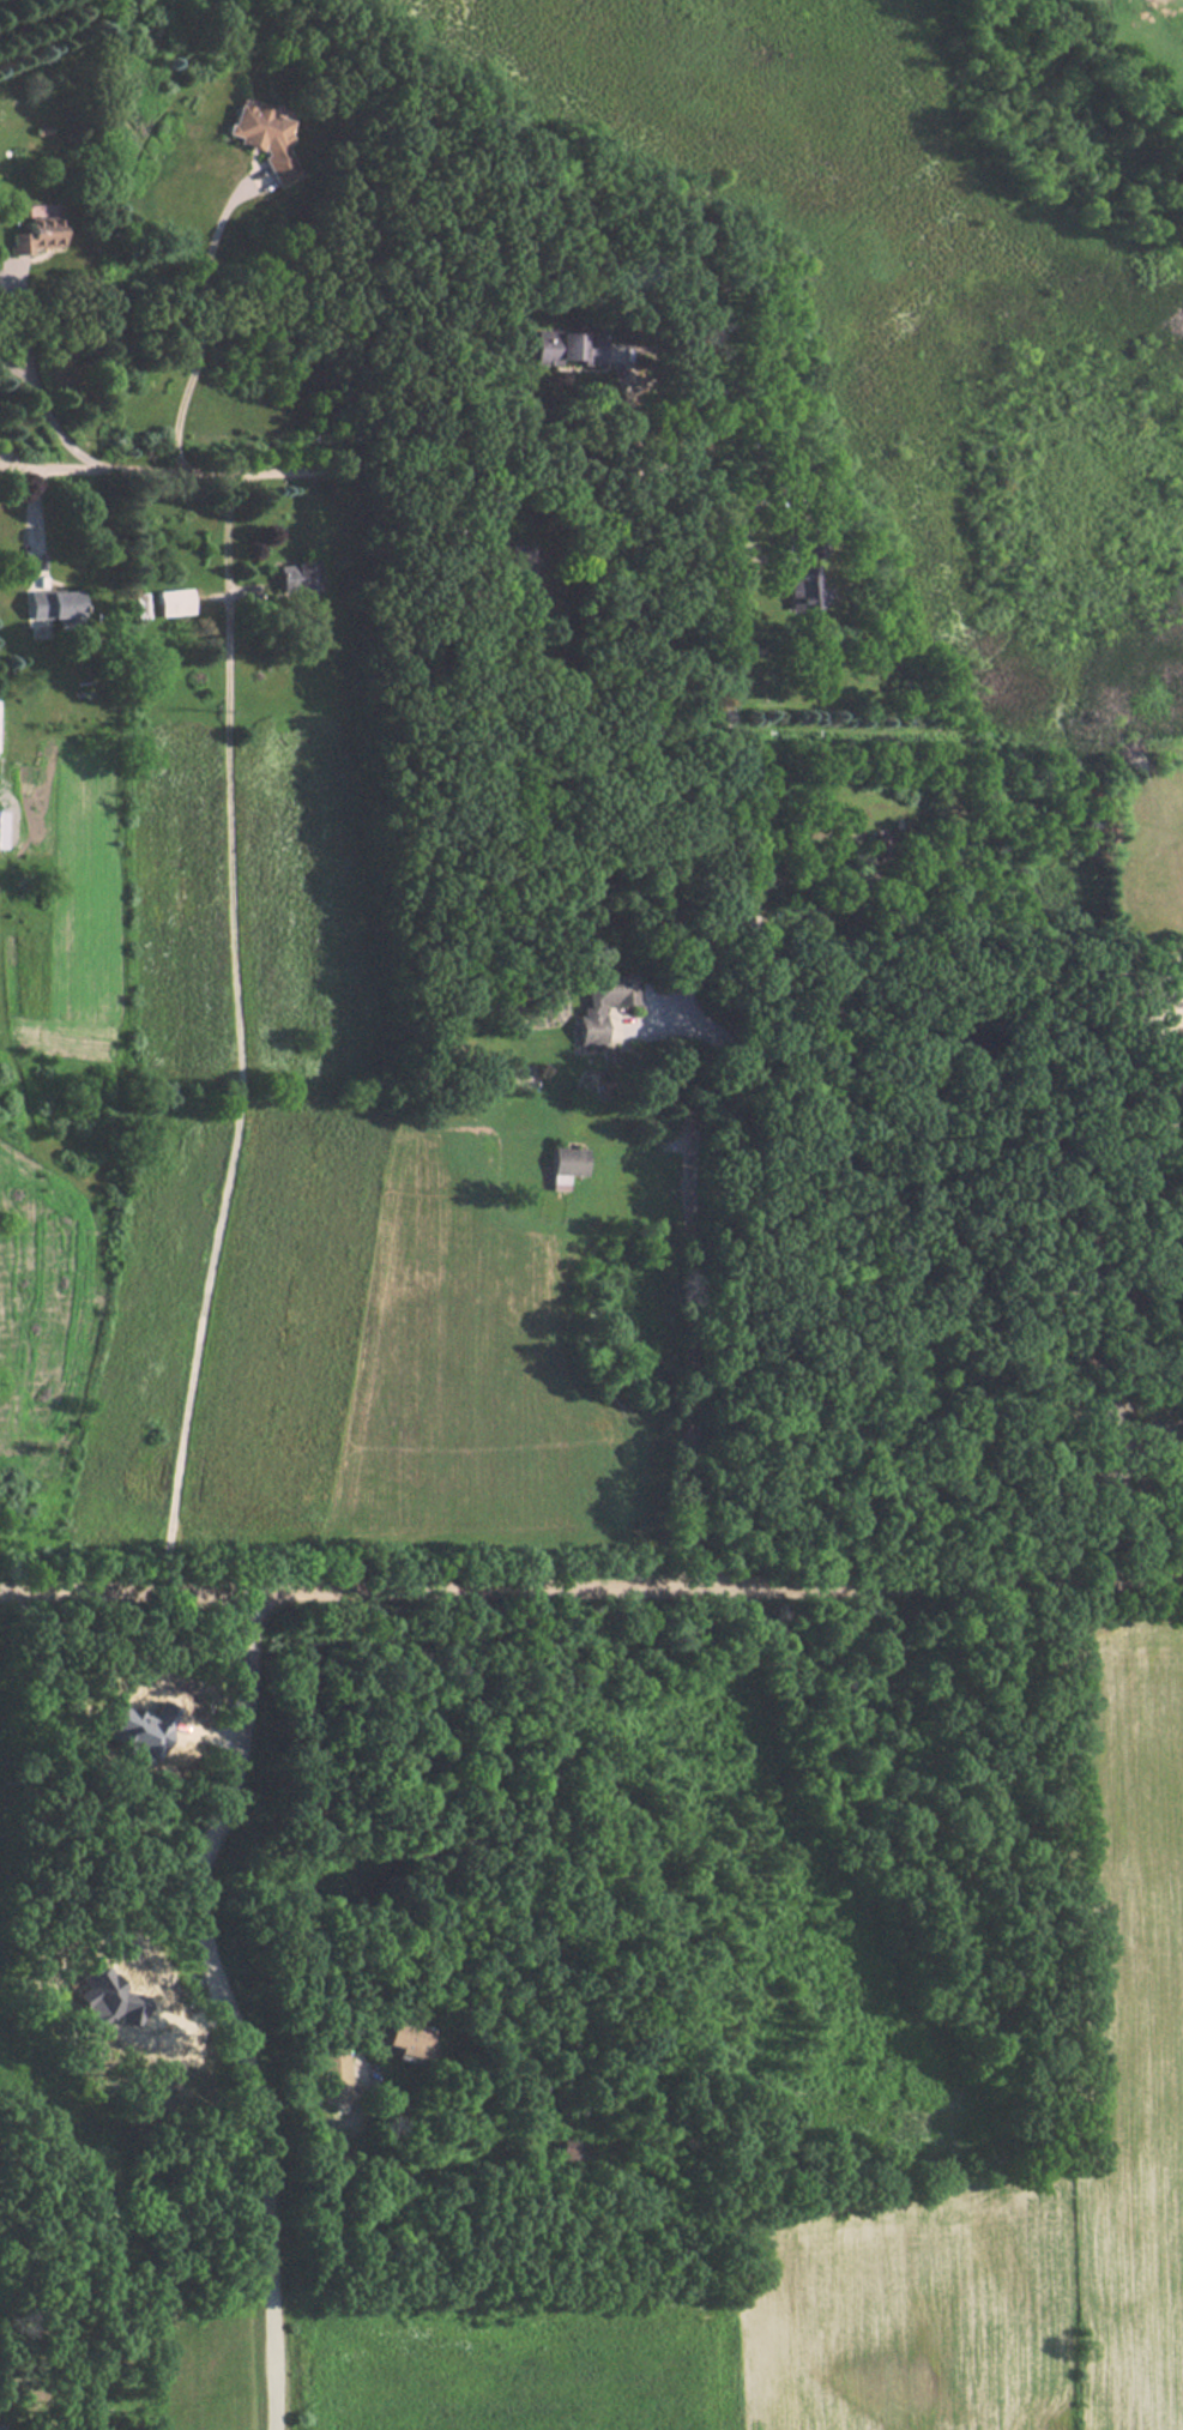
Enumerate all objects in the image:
building: (259, 139)
road: (256, 180)
building: (34, 236)
road: (20, 321)
road: (200, 322)
building: (580, 345)
road: (14, 369)
road: (636, 411)
road: (54, 430)
road: (19, 468)
road: (132, 470)
road: (31, 520)
building: (805, 543)
road: (754, 553)
building: (295, 578)
road: (35, 580)
building: (797, 593)
road: (229, 595)
building: (168, 602)
building: (44, 611)
road: (736, 798)
road: (899, 917)
building: (597, 1002)
road: (236, 1033)
building: (560, 1164)
road: (1106, 1338)
road: (591, 1585)
road: (439, 1817)
road: (225, 2006)
building: (400, 2038)
building: (328, 2072)

